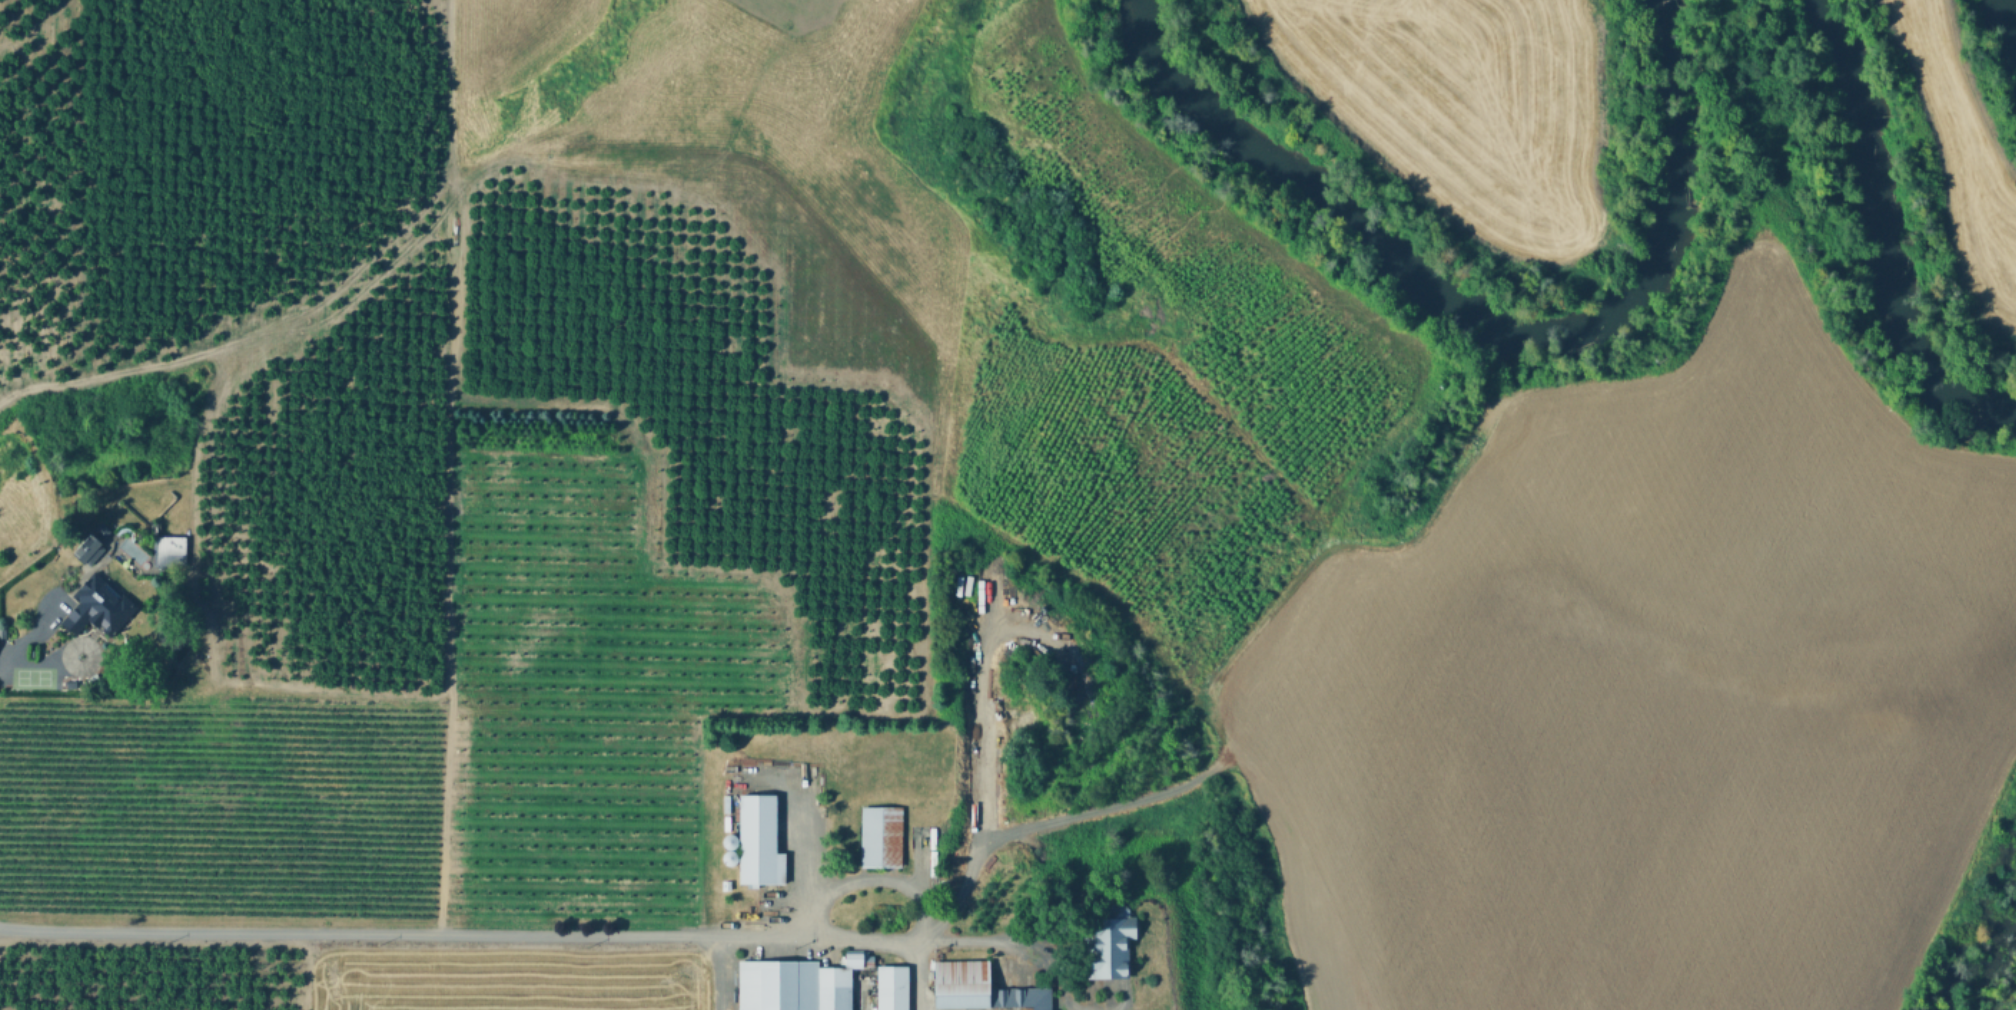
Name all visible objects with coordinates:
river: (2011, 15)
crop: (1462, 102)
crop: (1962, 157)
river: (1277, 176)
river: (1646, 216)
river: (1868, 234)
building: (99, 529)
building: (85, 549)
building: (167, 549)
building: (94, 608)
road: (1246, 629)
building: (1, 632)
road: (29, 635)
road: (84, 644)
road: (35, 663)
park: (32, 676)
crop: (1650, 694)
road: (980, 737)
building: (880, 839)
building: (729, 844)
silo: (729, 844)
building: (758, 844)
building: (729, 860)
silo: (729, 860)
road: (868, 880)
building: (724, 888)
road: (927, 929)
road: (360, 933)
road: (918, 944)
building: (1110, 949)
road: (722, 971)
crop: (506, 981)
building: (801, 984)
building: (891, 989)
building: (978, 990)
road: (1117, 1001)

